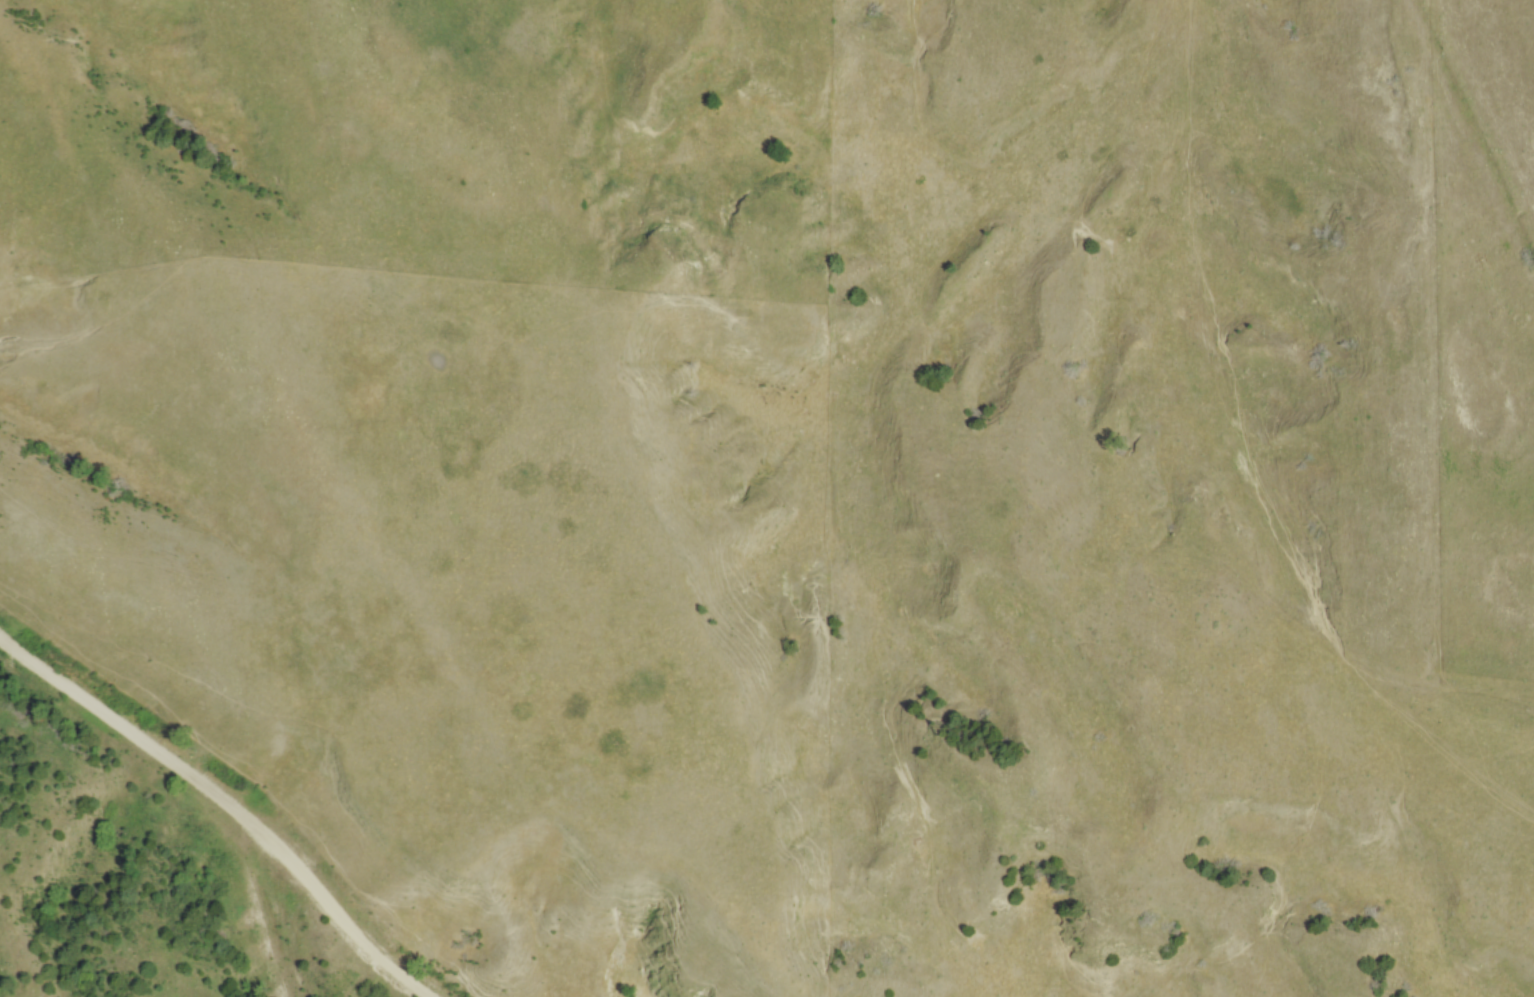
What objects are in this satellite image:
road: (225, 805)

